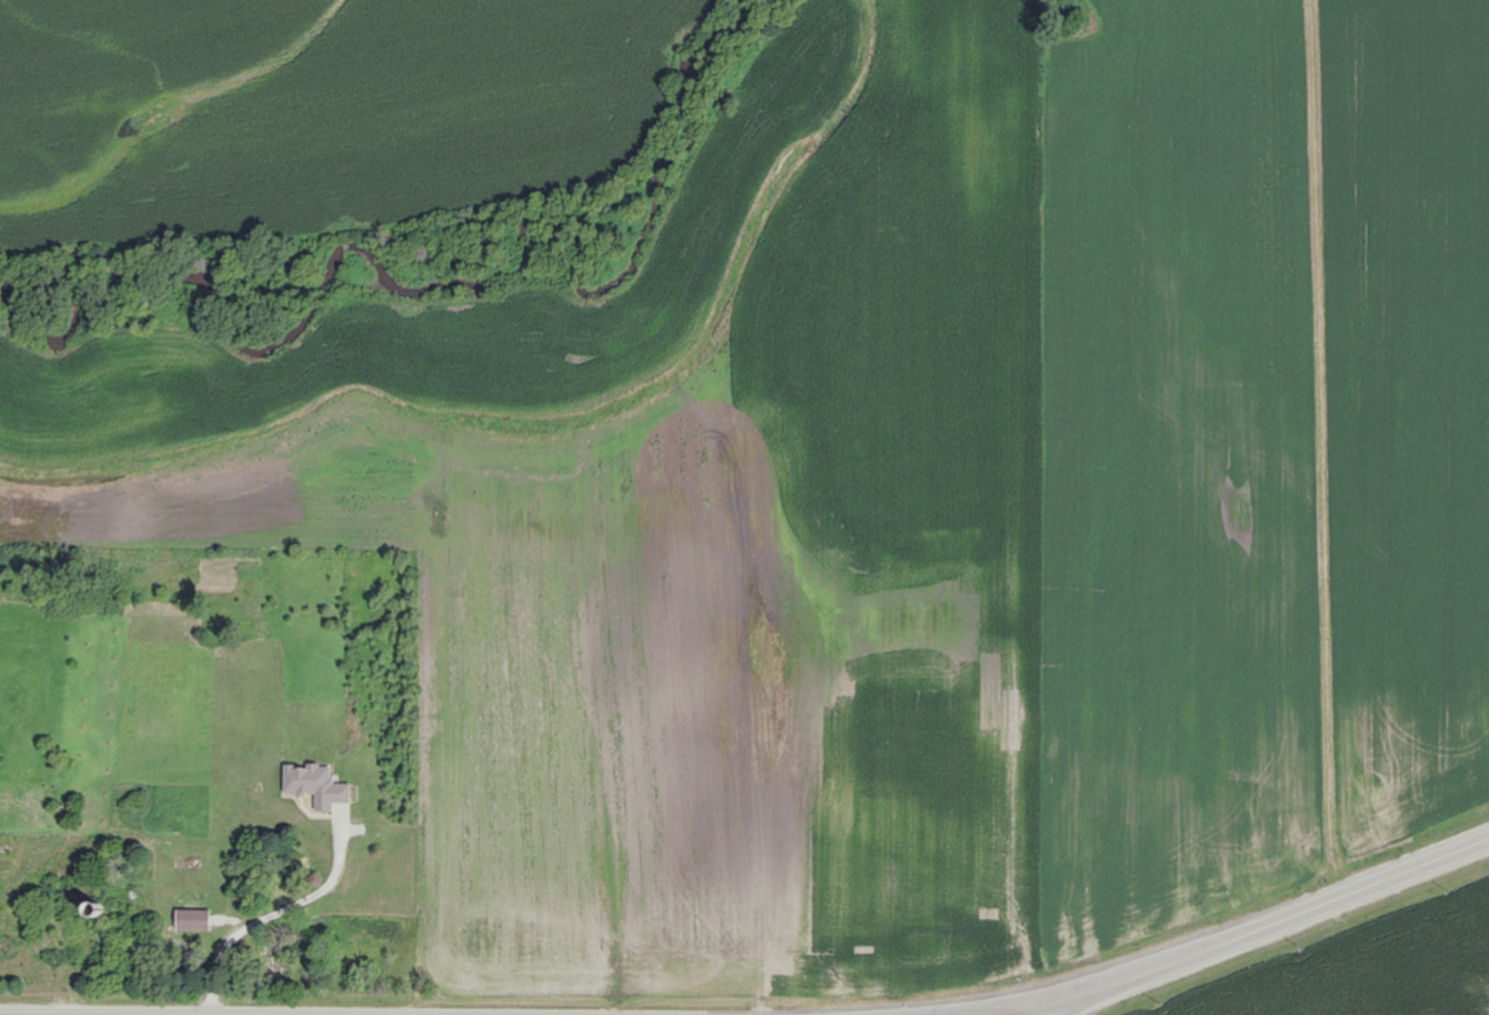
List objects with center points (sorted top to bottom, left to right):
building: (194, 903)
road: (281, 912)
road: (1271, 931)
building: (276, 970)

